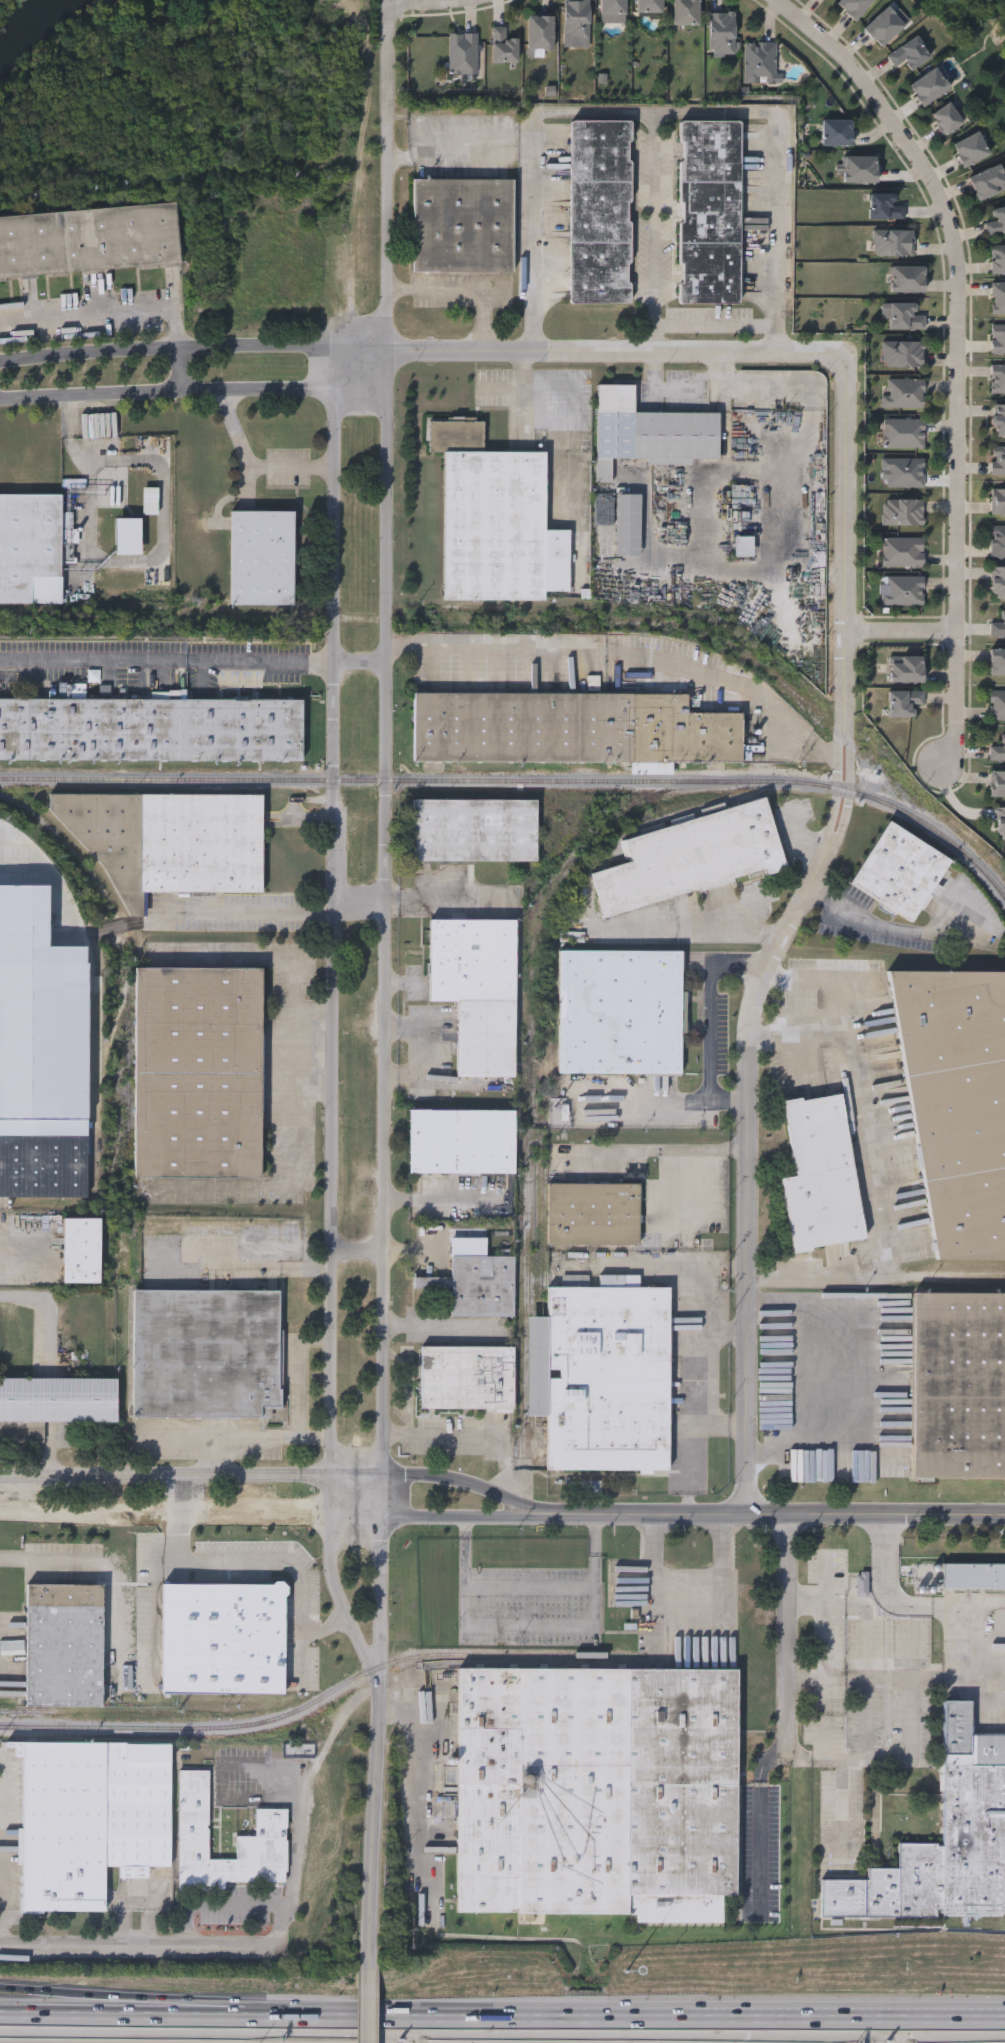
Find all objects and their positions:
road: (434, 2)
building: (612, 6)
building: (649, 6)
building: (853, 6)
building: (685, 12)
building: (576, 19)
building: (884, 25)
building: (722, 32)
building: (539, 34)
building: (502, 46)
building: (425, 48)
building: (909, 52)
building: (462, 53)
building: (759, 62)
building: (929, 85)
road: (654, 113)
building: (947, 118)
building: (837, 132)
building: (971, 149)
road: (447, 155)
building: (860, 168)
road: (388, 173)
building: (987, 181)
building: (885, 206)
building: (600, 211)
building: (709, 211)
building: (996, 221)
building: (463, 225)
road: (654, 232)
building: (89, 239)
building: (892, 242)
building: (998, 259)
building: (907, 278)
road: (461, 292)
building: (998, 297)
road: (128, 313)
building: (903, 316)
road: (715, 325)
building: (997, 339)
road: (193, 347)
road: (962, 350)
road: (618, 351)
building: (902, 354)
building: (997, 378)
road: (689, 386)
road: (193, 391)
building: (902, 393)
building: (998, 420)
building: (651, 430)
building: (902, 433)
road: (578, 441)
building: (998, 461)
road: (254, 466)
building: (902, 473)
building: (151, 500)
building: (997, 501)
building: (901, 512)
building: (490, 516)
building: (627, 525)
building: (129, 535)
road: (850, 541)
building: (997, 542)
building: (31, 548)
building: (902, 552)
building: (263, 557)
building: (901, 590)
building: (997, 626)
road: (906, 632)
road: (471, 641)
road: (167, 660)
road: (360, 660)
building: (997, 662)
building: (905, 670)
road: (709, 674)
building: (903, 702)
building: (996, 705)
building: (150, 728)
building: (571, 729)
building: (998, 750)
road: (839, 759)
road: (849, 760)
railway: (521, 782)
building: (997, 783)
road: (954, 804)
building: (1000, 822)
building: (475, 831)
building: (171, 839)
building: (692, 857)
building: (900, 871)
road: (360, 903)
road: (443, 904)
road: (244, 912)
road: (863, 918)
road: (697, 923)
road: (823, 978)
building: (477, 991)
road: (333, 1003)
road: (387, 1008)
road: (713, 1009)
building: (621, 1013)
building: (198, 1071)
railway: (94, 1083)
railway: (530, 1087)
railway: (128, 1099)
building: (957, 1102)
road: (669, 1103)
railway: (91, 1107)
road: (749, 1140)
building: (461, 1142)
road: (739, 1148)
road: (658, 1153)
building: (44, 1159)
railway: (540, 1169)
road: (871, 1174)
building: (820, 1175)
road: (669, 1193)
road: (438, 1199)
building: (593, 1215)
road: (23, 1250)
road: (359, 1250)
road: (416, 1250)
building: (82, 1252)
road: (264, 1261)
road: (723, 1276)
railway: (520, 1282)
building: (475, 1286)
road: (48, 1301)
road: (706, 1306)
road: (445, 1326)
road: (725, 1343)
building: (207, 1355)
road: (297, 1372)
building: (467, 1378)
building: (602, 1378)
road: (861, 1379)
building: (957, 1386)
building: (55, 1404)
road: (470, 1436)
road: (253, 1439)
road: (687, 1447)
road: (193, 1476)
road: (469, 1485)
road: (645, 1514)
road: (190, 1517)
road: (464, 1517)
road: (873, 1517)
road: (724, 1550)
road: (275, 1561)
road: (83, 1565)
building: (974, 1578)
road: (884, 1580)
road: (530, 1584)
road: (655, 1585)
road: (968, 1603)
road: (849, 1607)
road: (154, 1609)
road: (530, 1630)
road: (791, 1636)
road: (827, 1638)
building: (224, 1639)
building: (65, 1645)
road: (967, 1659)
road: (848, 1675)
road: (917, 1677)
road: (868, 1697)
railway: (321, 1698)
railway: (31, 1712)
road: (913, 1739)
road: (416, 1777)
building: (597, 1792)
road: (844, 1794)
road: (5, 1803)
road: (302, 1818)
road: (375, 1818)
building: (92, 1819)
building: (194, 1823)
road: (761, 1823)
building: (945, 1841)
road: (1, 1891)
road: (222, 1904)
road: (137, 1941)
road: (116, 1995)
road: (369, 2006)
road: (116, 2008)
road: (618, 2018)

